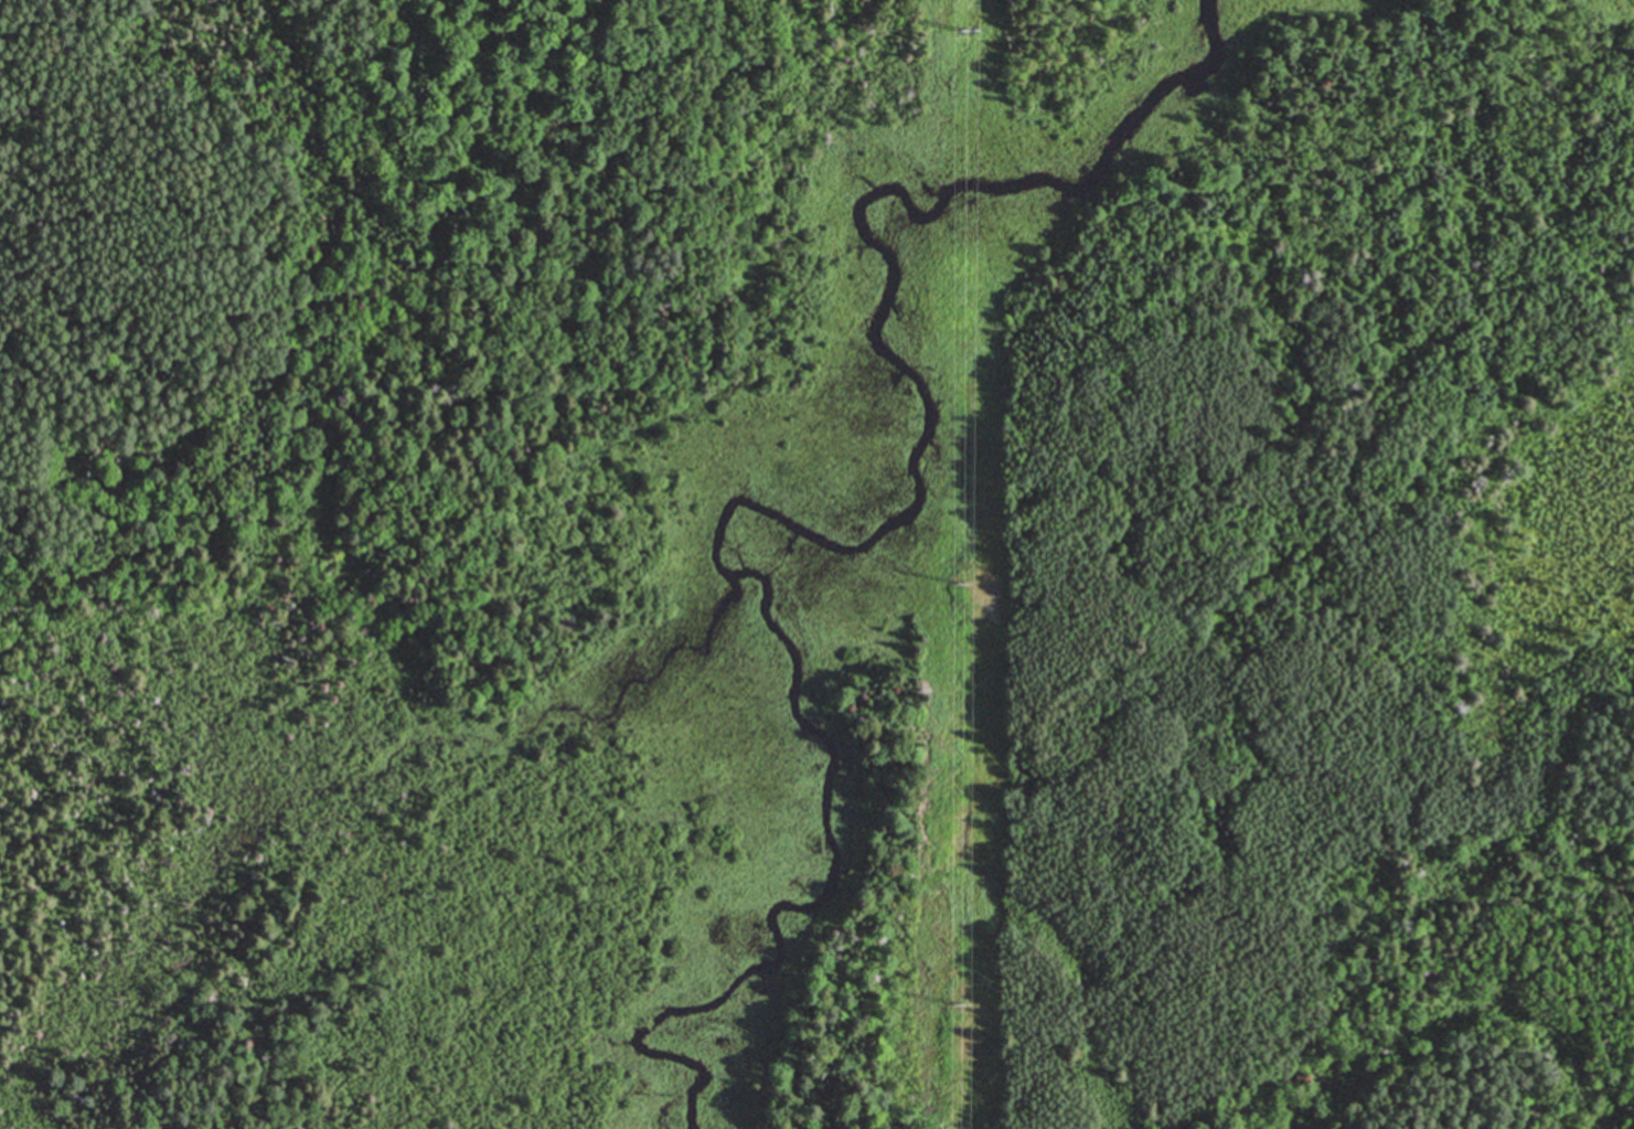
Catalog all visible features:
power tower: (965, 41)
river: (816, 537)
power tower: (965, 587)
power tower: (965, 1005)

